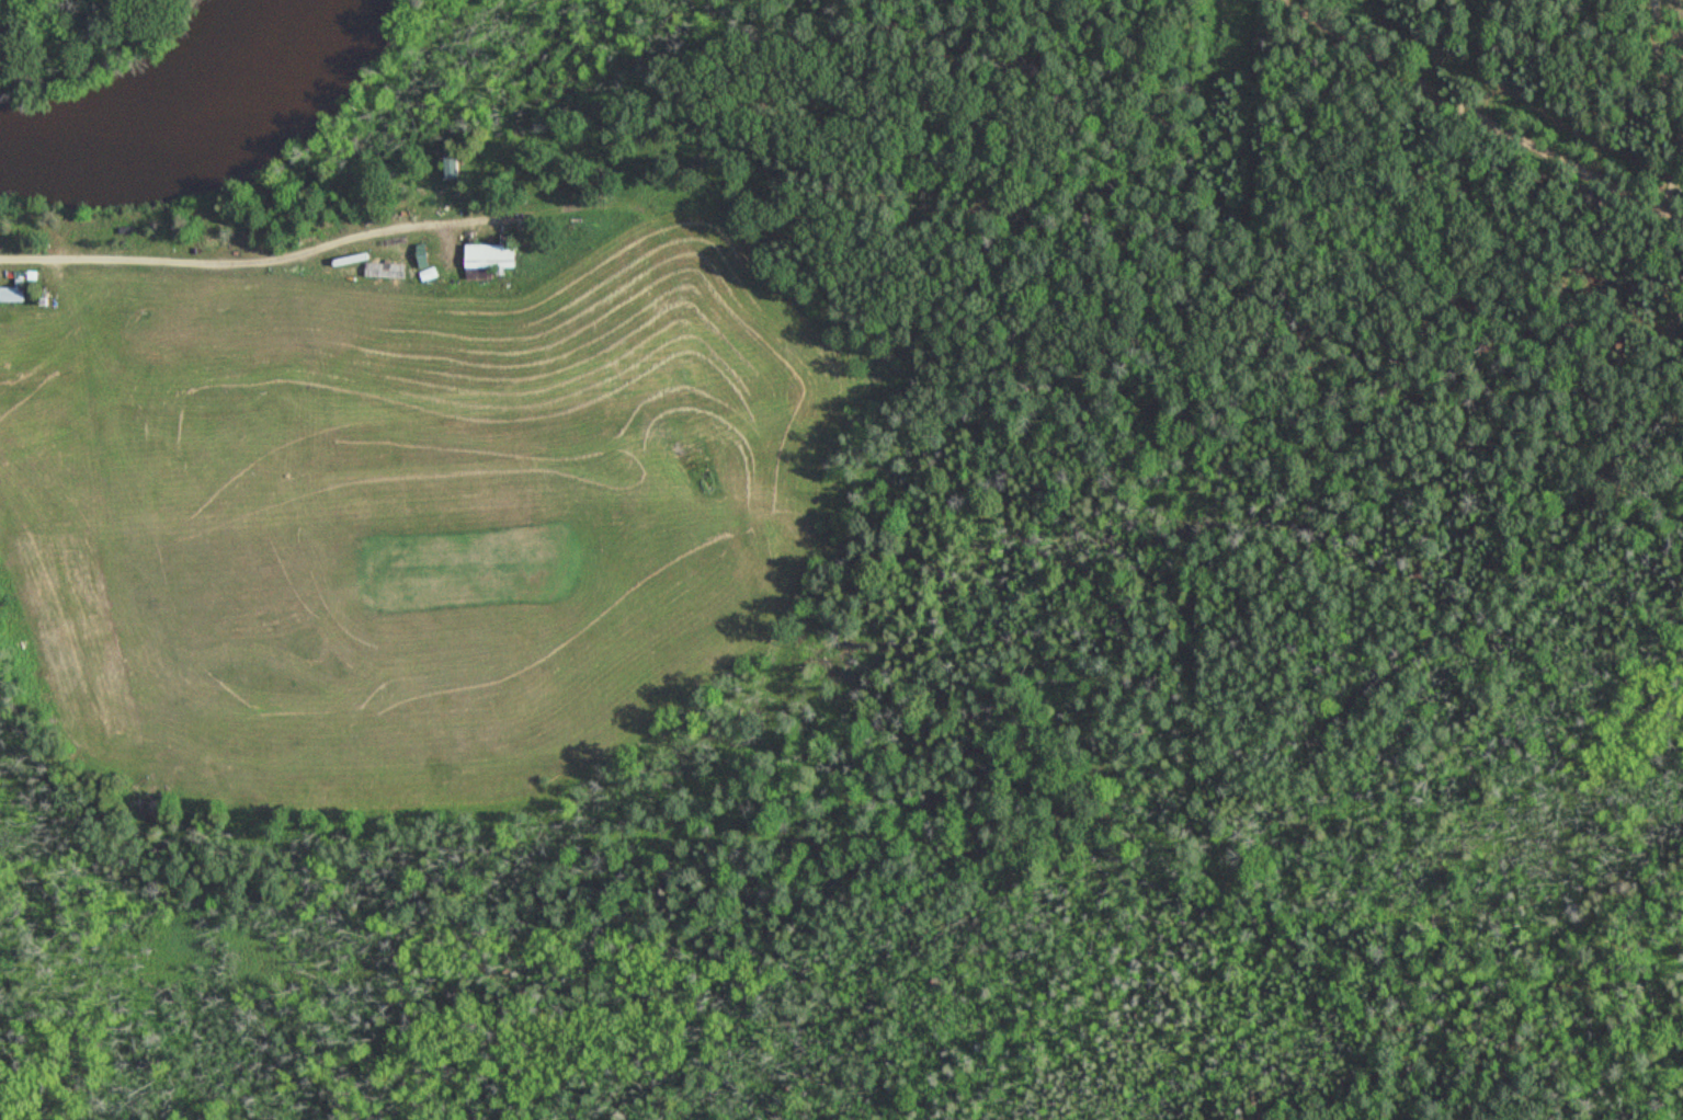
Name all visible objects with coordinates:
road: (1269, 23)
road: (1367, 46)
road: (1472, 73)
road: (1670, 80)
road: (1601, 99)
road: (1431, 123)
river: (180, 129)
building: (456, 165)
building: (493, 255)
road: (236, 258)
building: (388, 270)
building: (16, 292)

